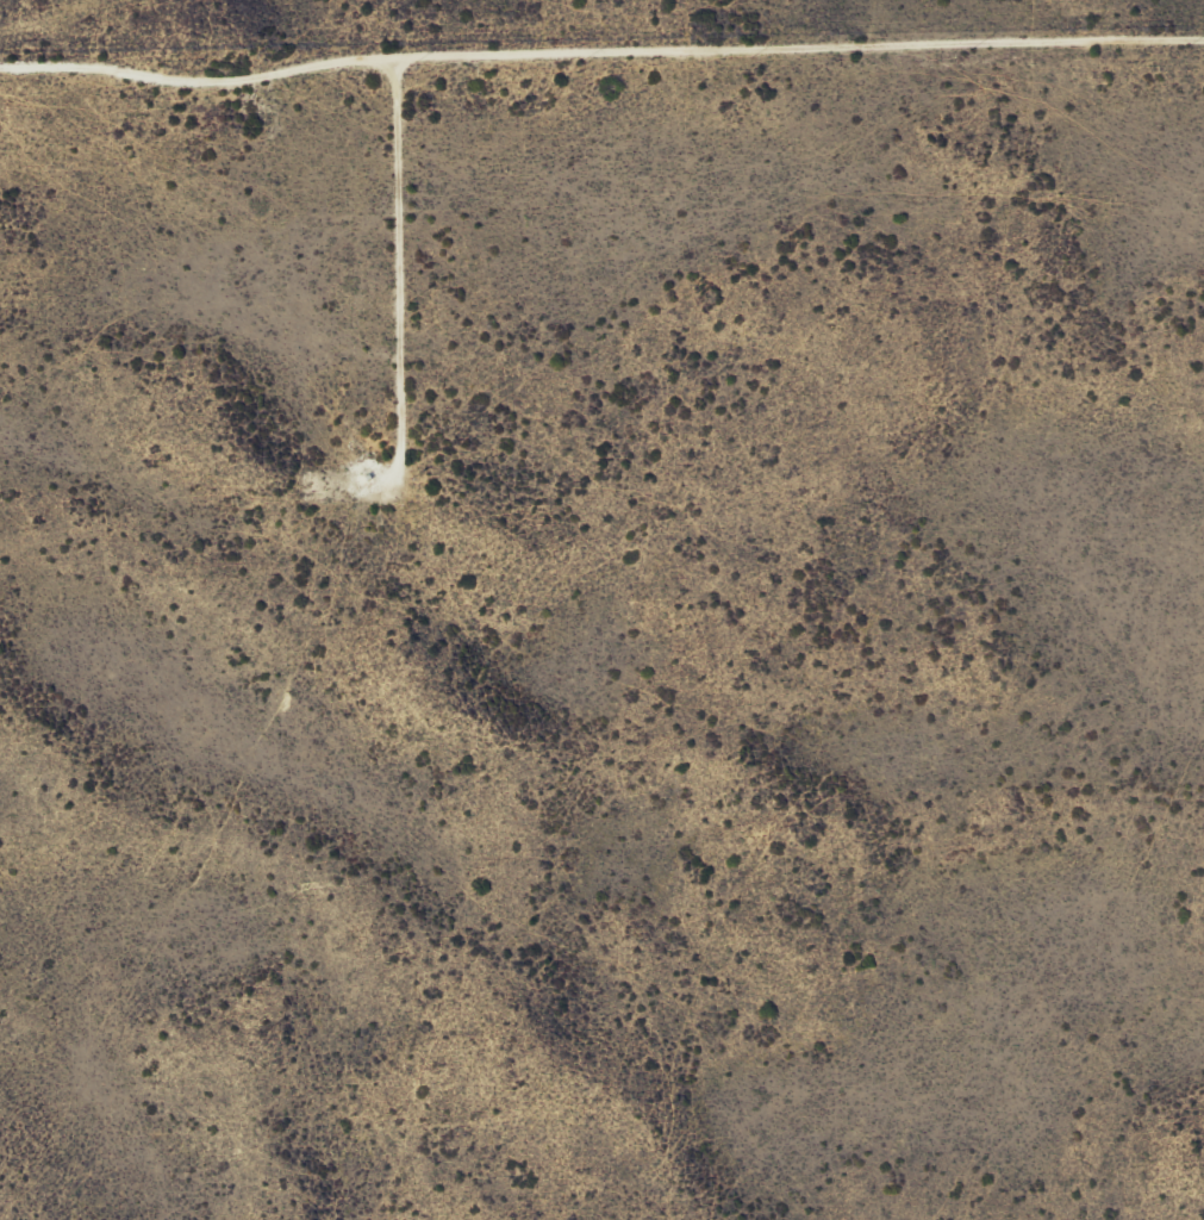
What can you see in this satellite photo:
road: (599, 50)

